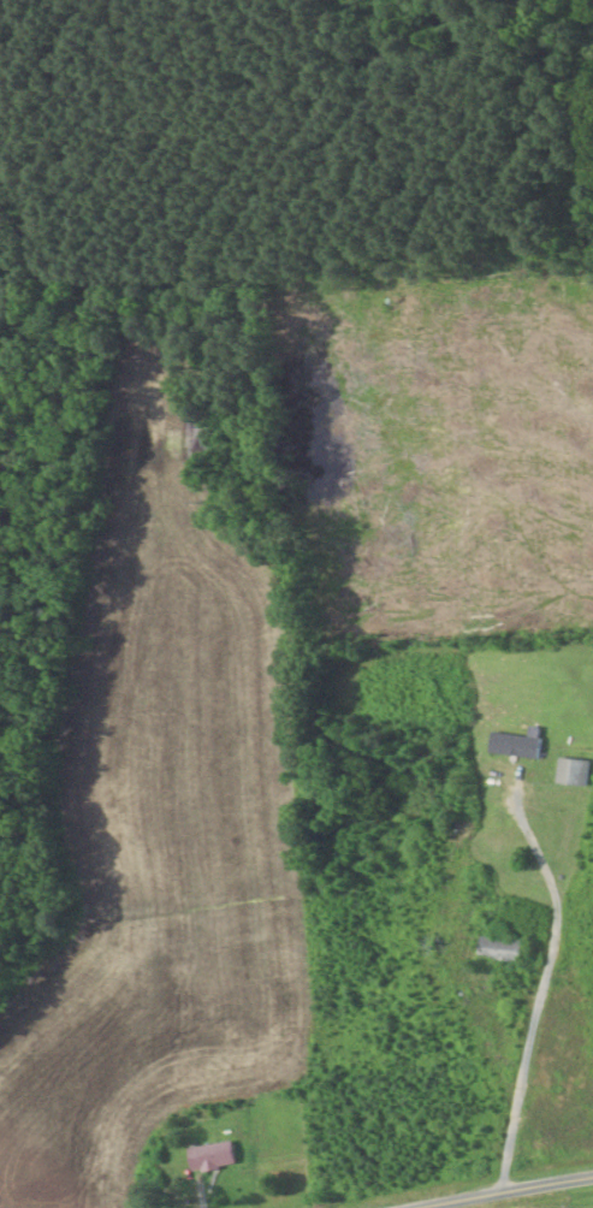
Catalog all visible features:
building: (499, 948)
building: (210, 1155)
road: (520, 1192)

